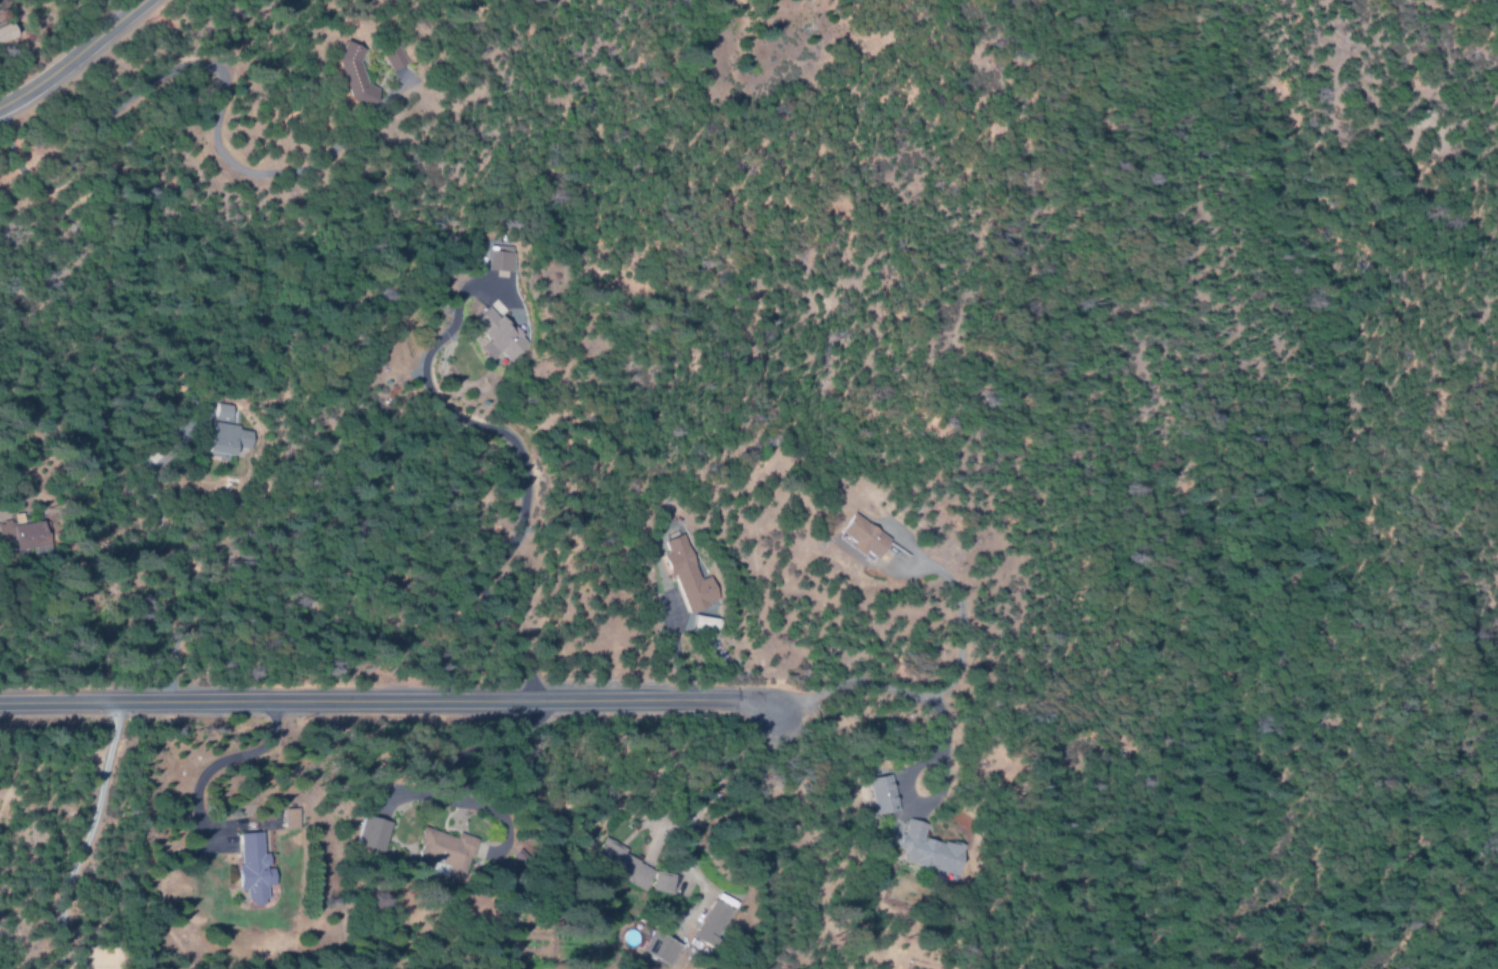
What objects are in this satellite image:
building: (526, 1)
building: (3, 32)
road: (71, 55)
building: (387, 59)
building: (348, 77)
building: (497, 262)
building: (492, 337)
building: (220, 412)
building: (223, 441)
building: (19, 533)
building: (859, 538)
building: (683, 576)
road: (935, 690)
road: (389, 702)
road: (715, 776)
building: (878, 795)
building: (287, 819)
building: (366, 834)
building: (438, 849)
building: (923, 850)
building: (616, 865)
building: (249, 870)
building: (658, 884)
building: (704, 927)
building: (655, 949)

